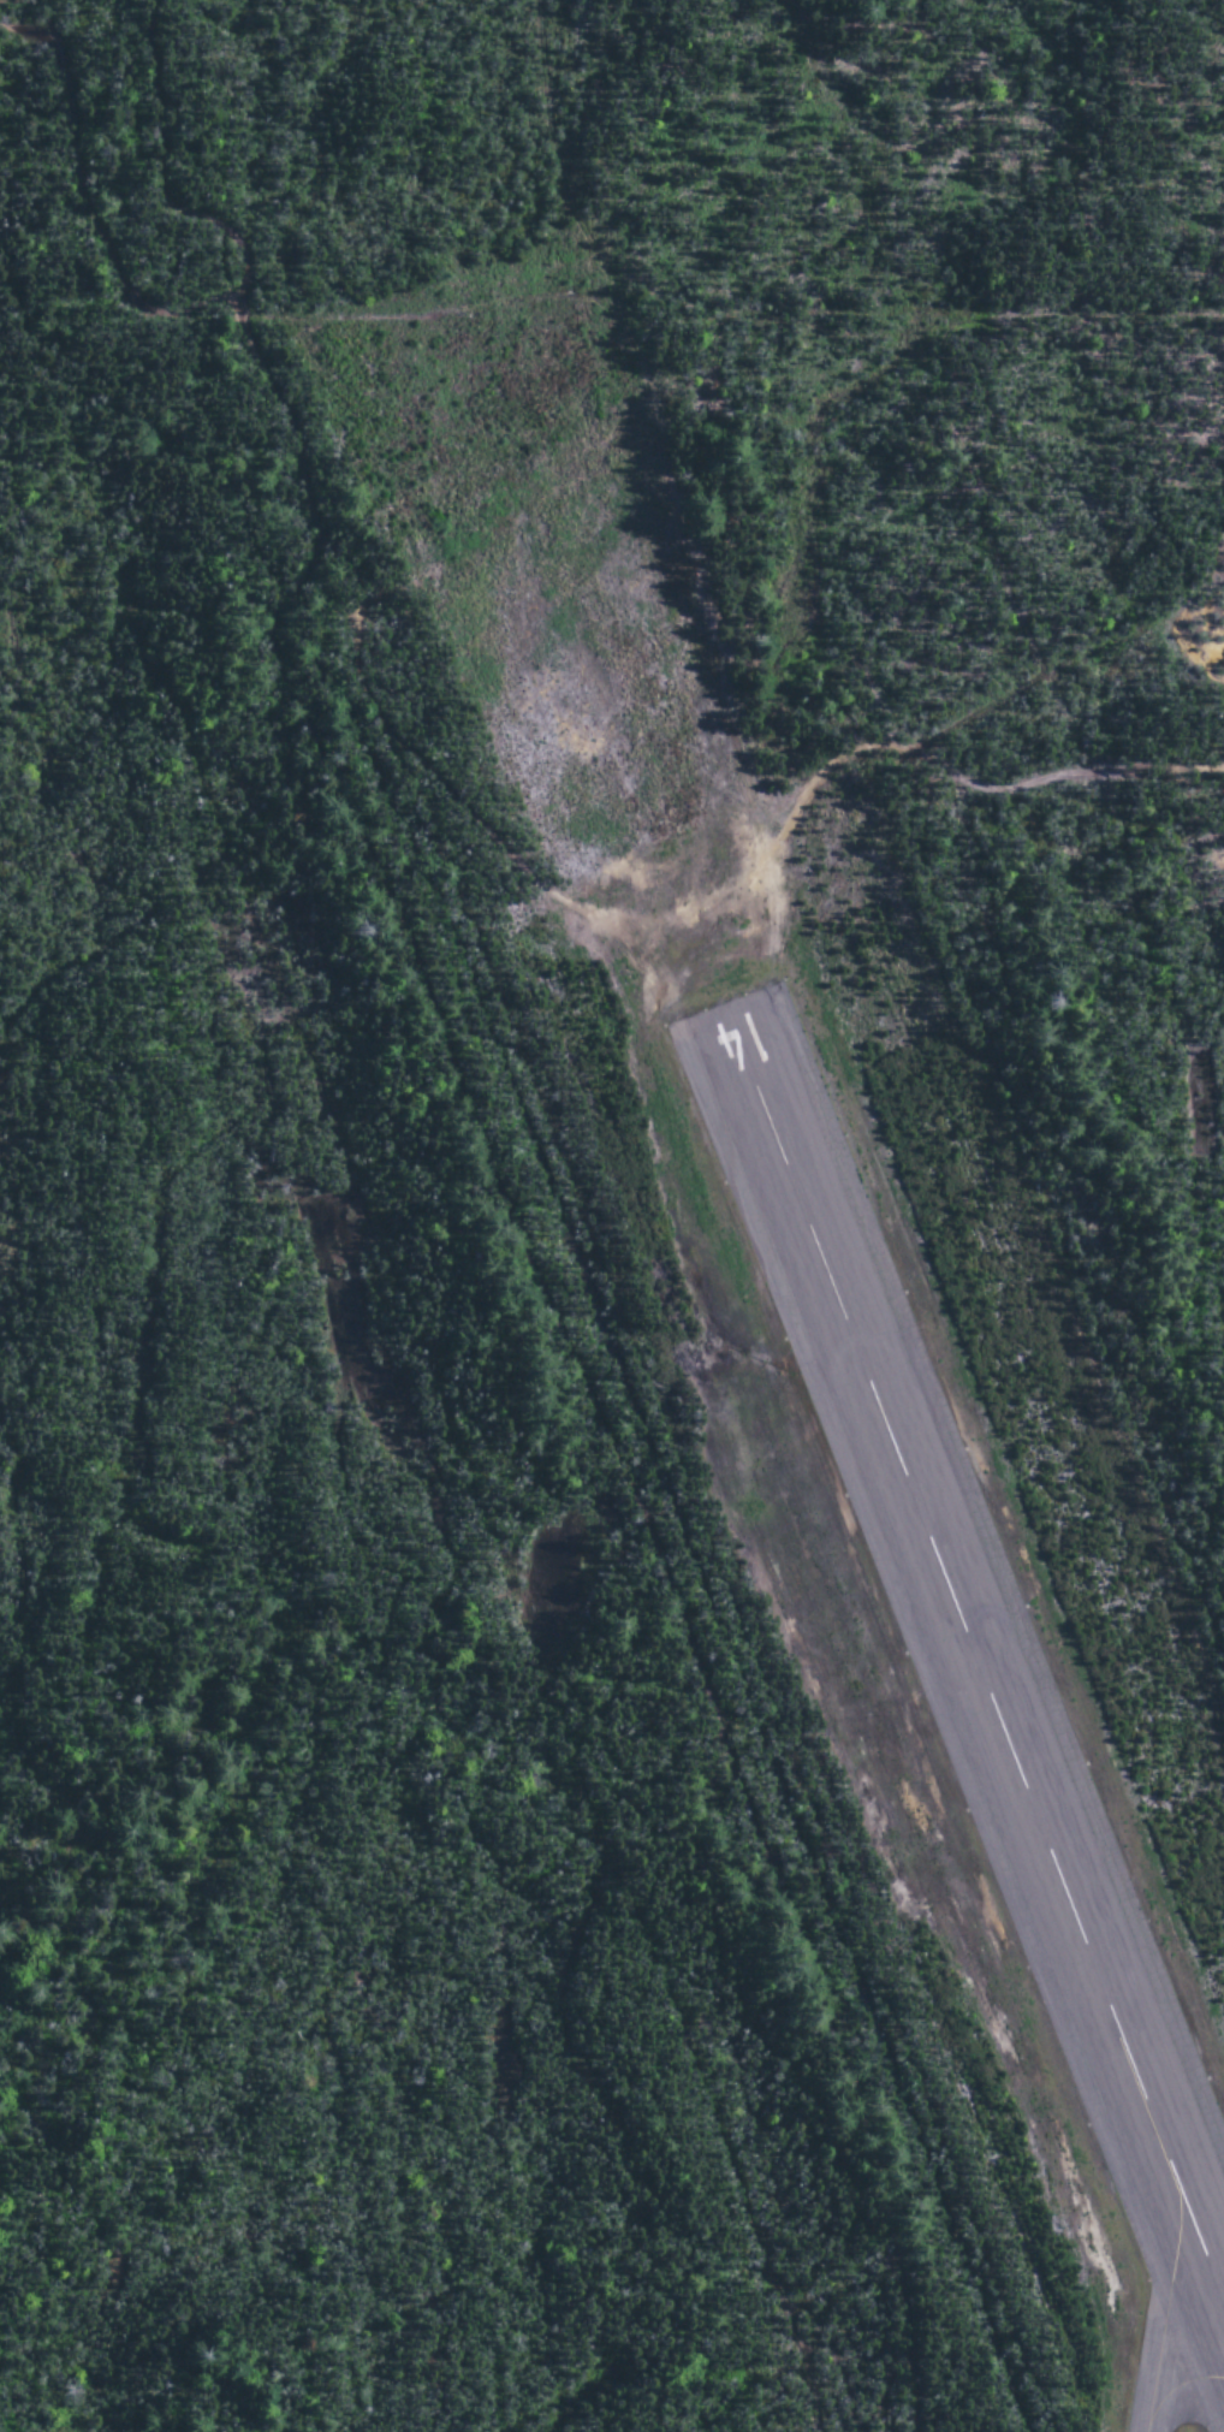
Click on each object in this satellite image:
road: (159, 172)
road: (414, 766)
road: (620, 1467)
airport: (834, 1538)
airport runway: (976, 1665)
airport taxiway: (1160, 2309)

